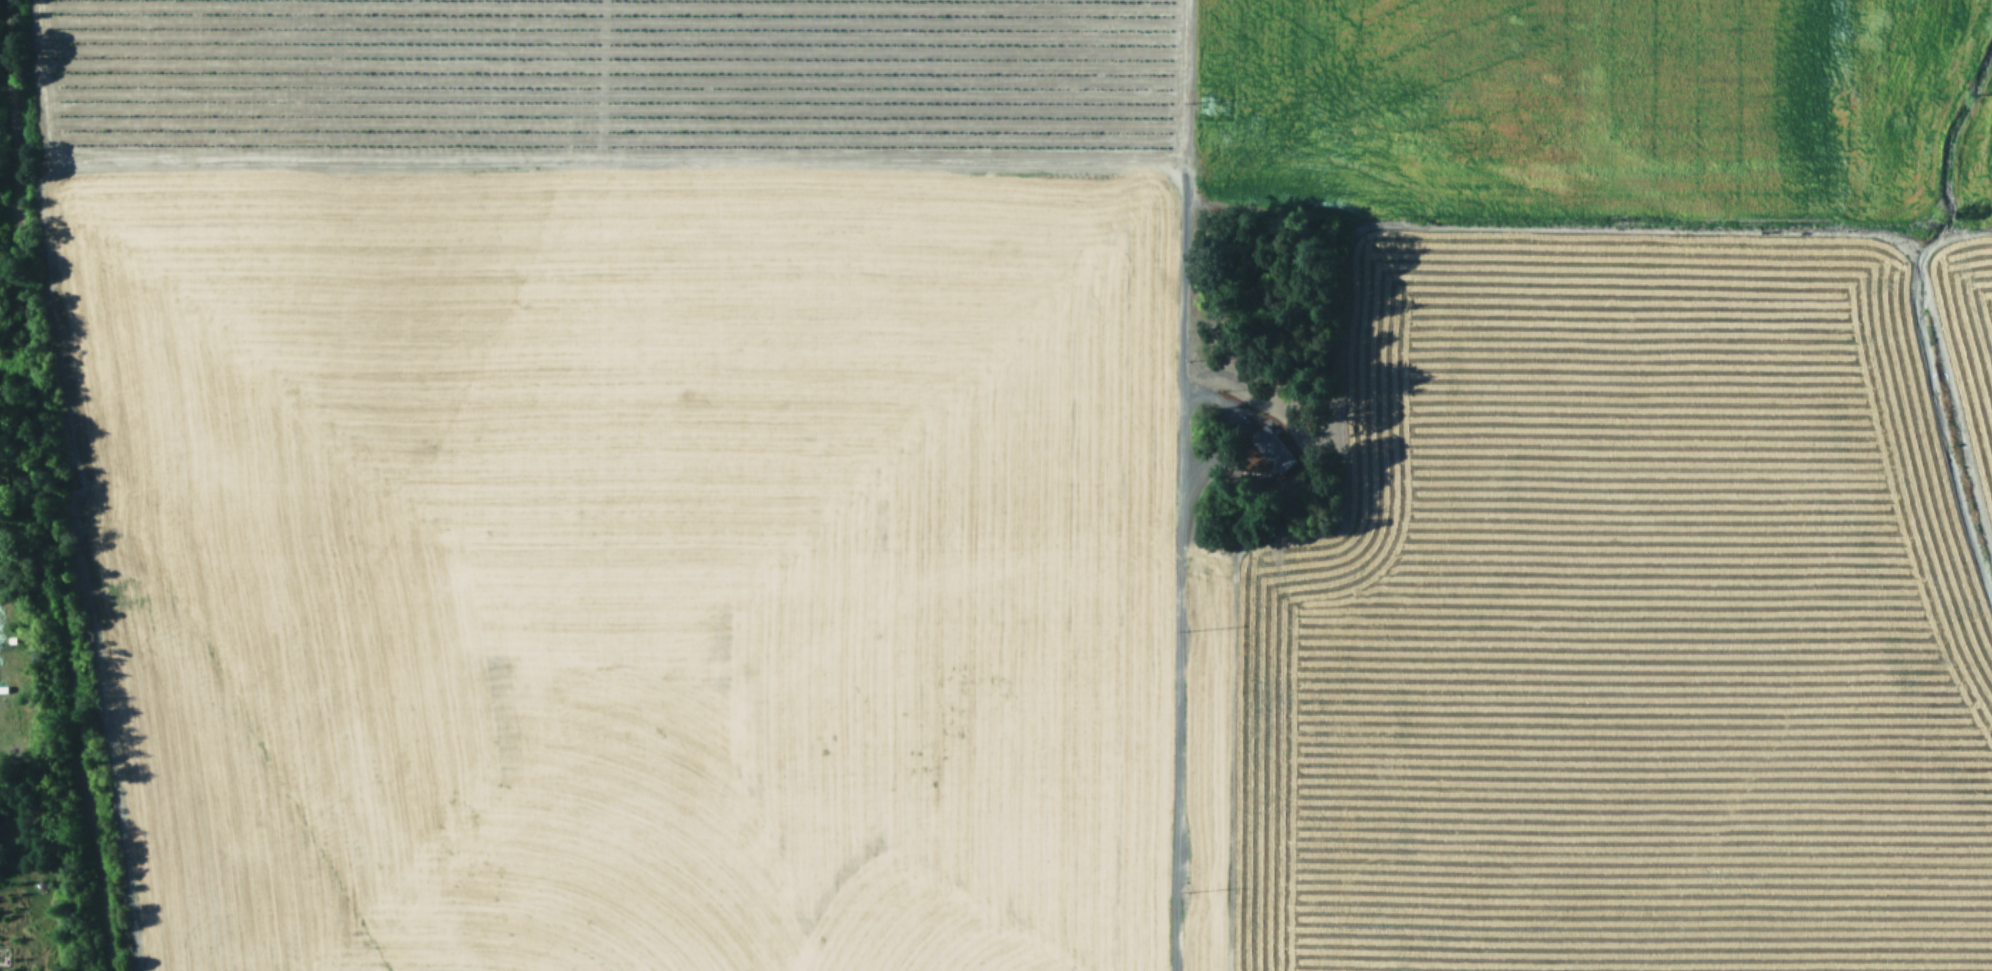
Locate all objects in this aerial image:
crop: (1988, 203)
crop: (709, 443)
building: (1271, 447)
crop: (1611, 626)
road: (1178, 664)

